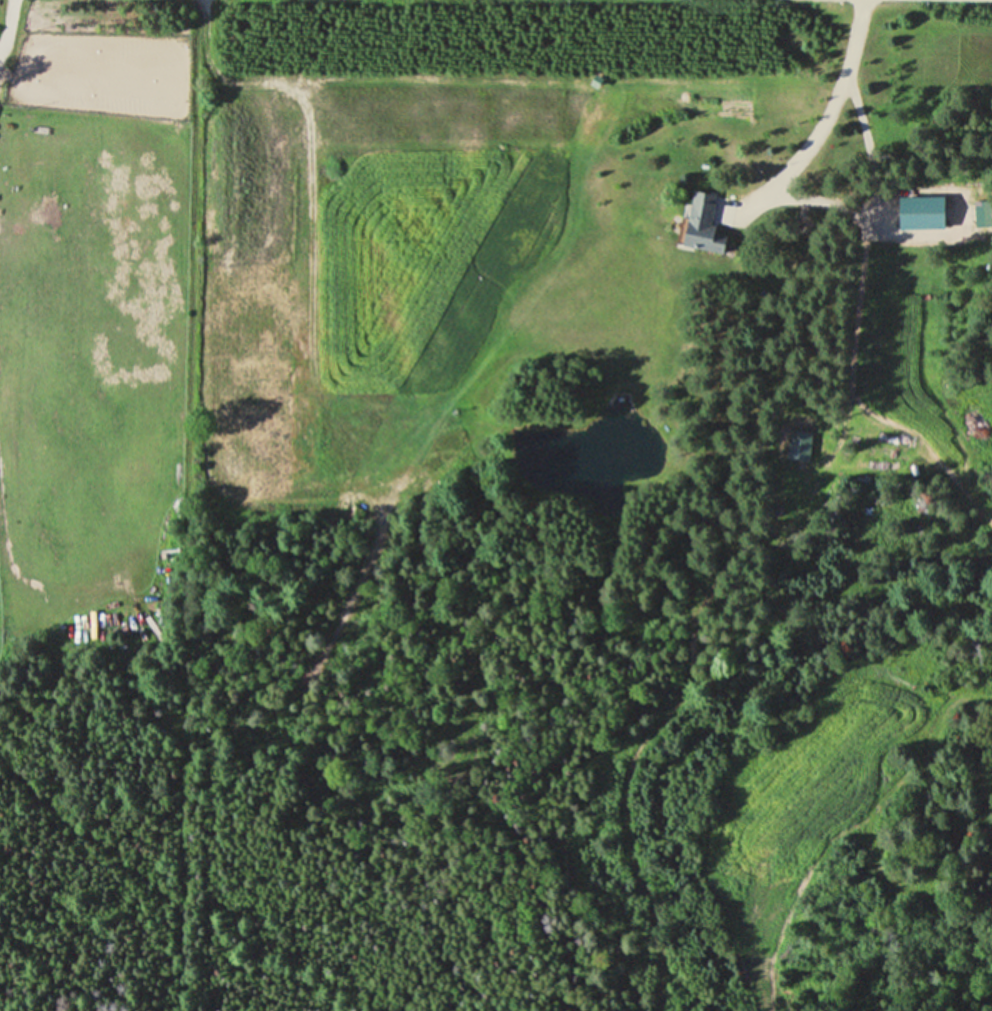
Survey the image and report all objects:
road: (8, 26)
road: (829, 112)
building: (981, 213)
building: (699, 224)

